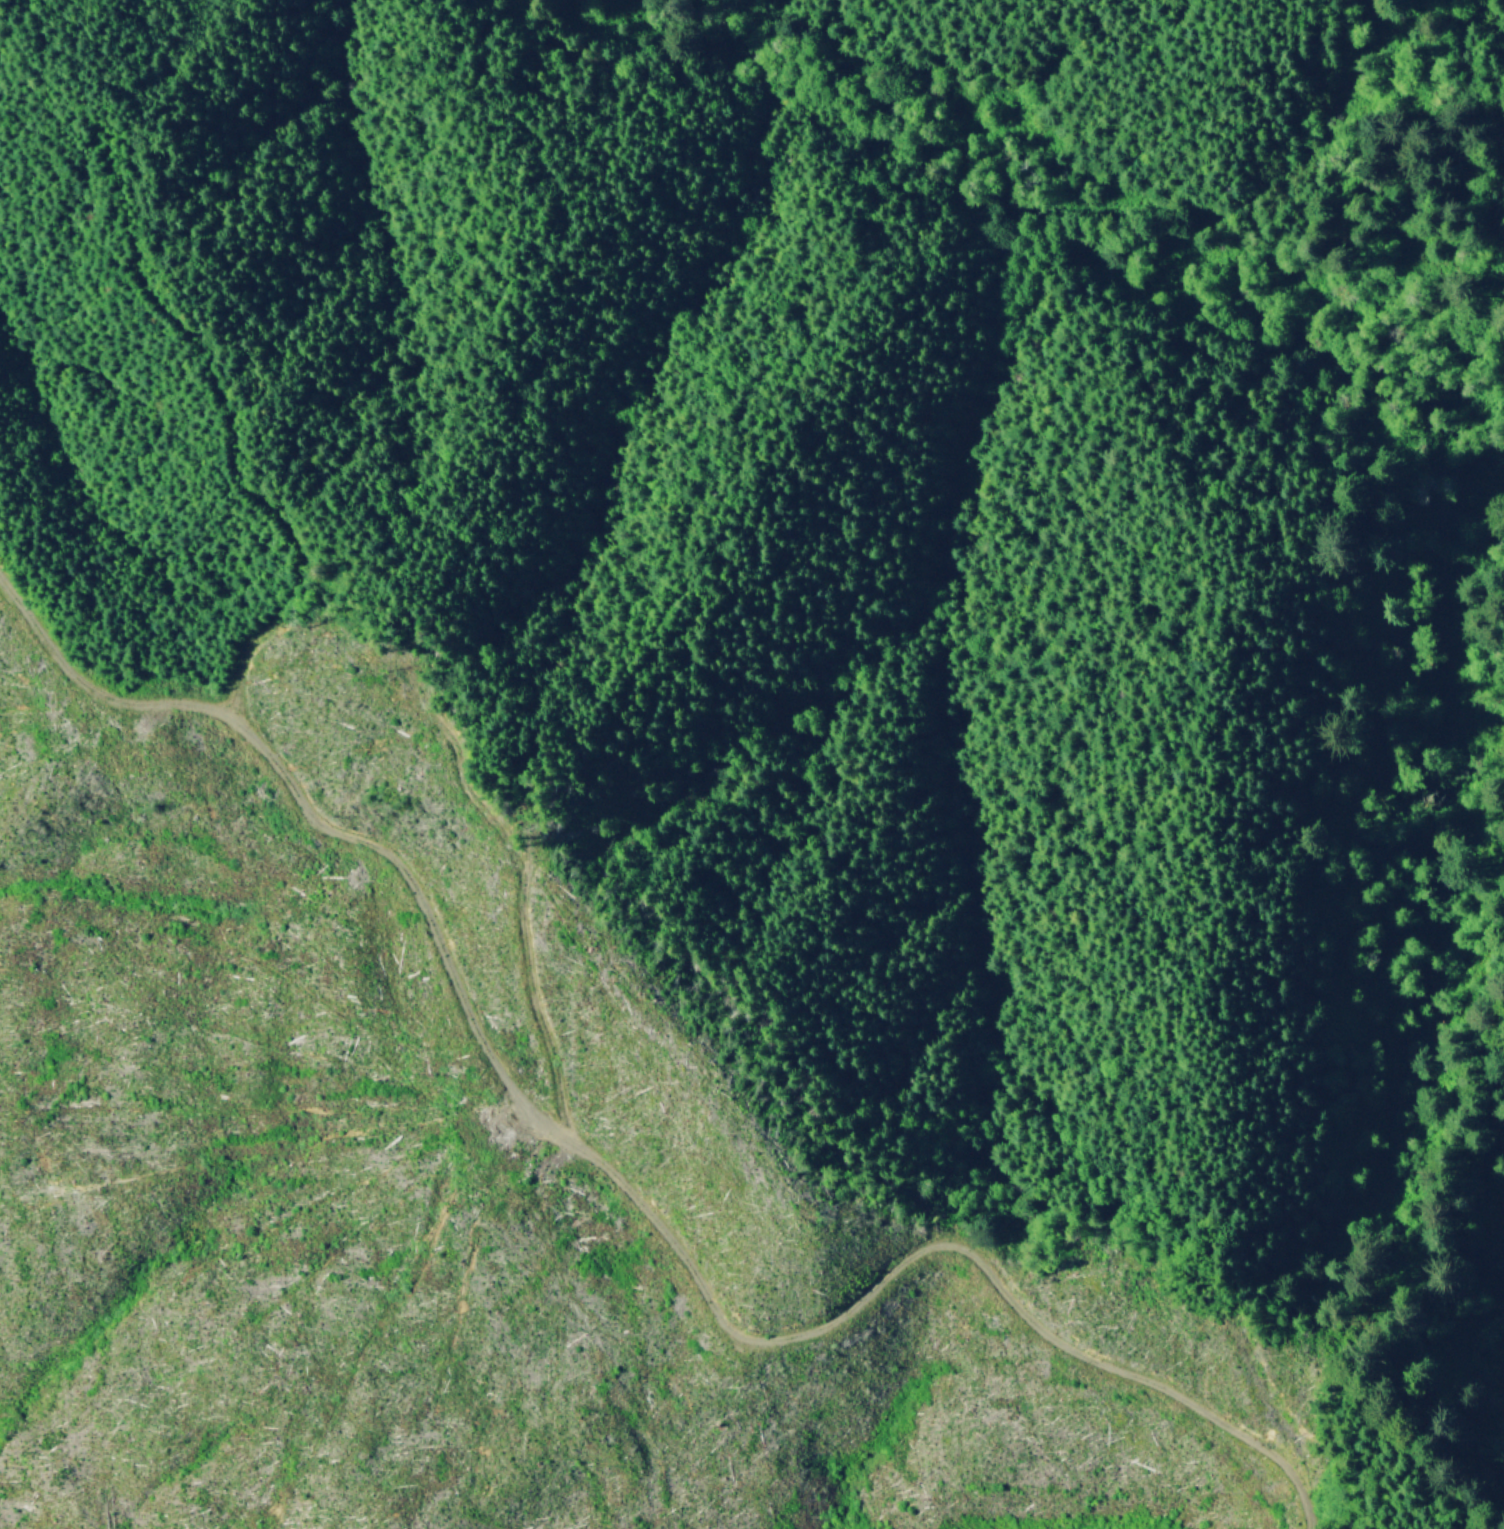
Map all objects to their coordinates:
road: (1145, 1384)

